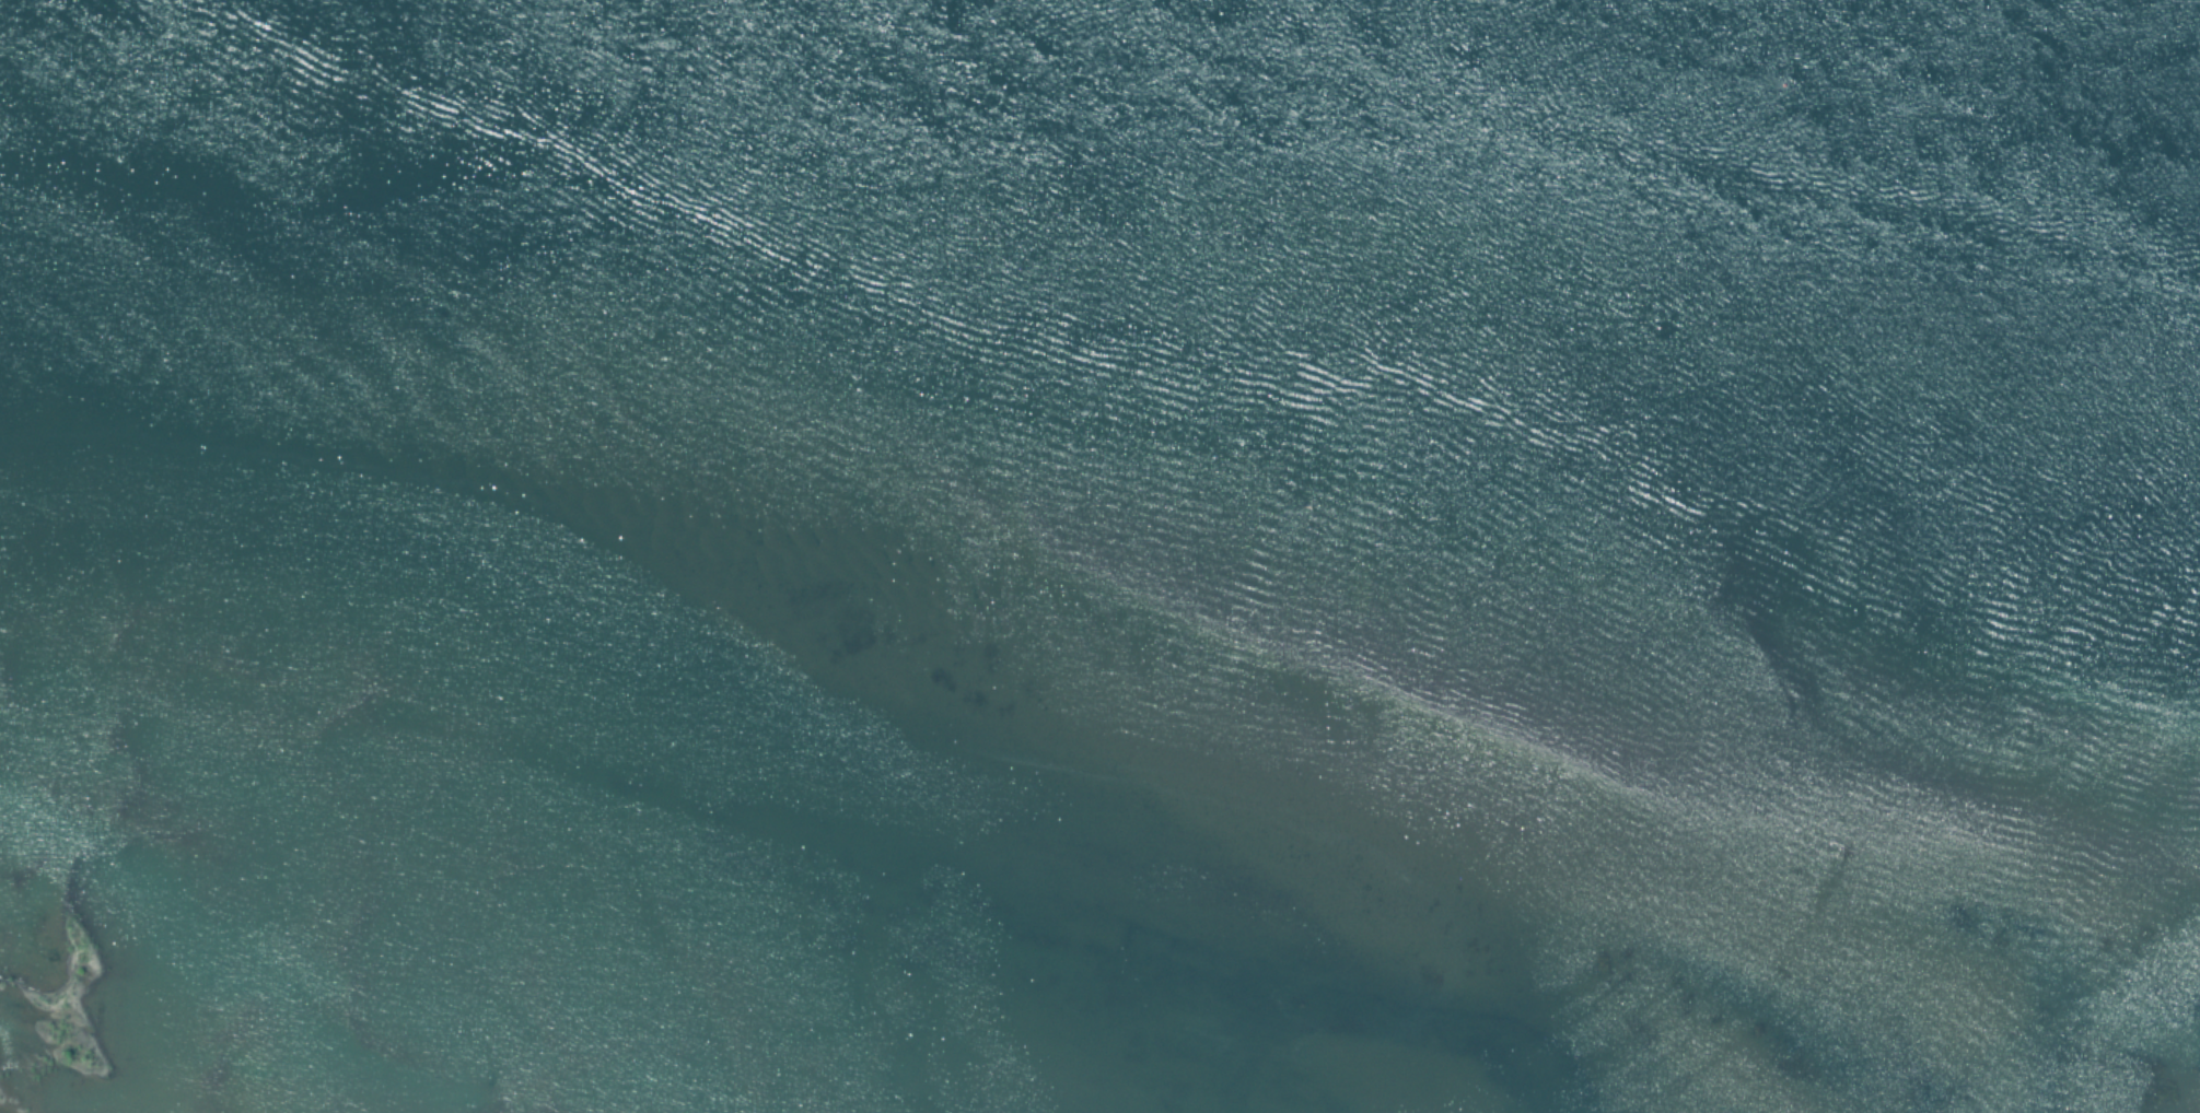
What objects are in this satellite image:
river: (2191, 2)

